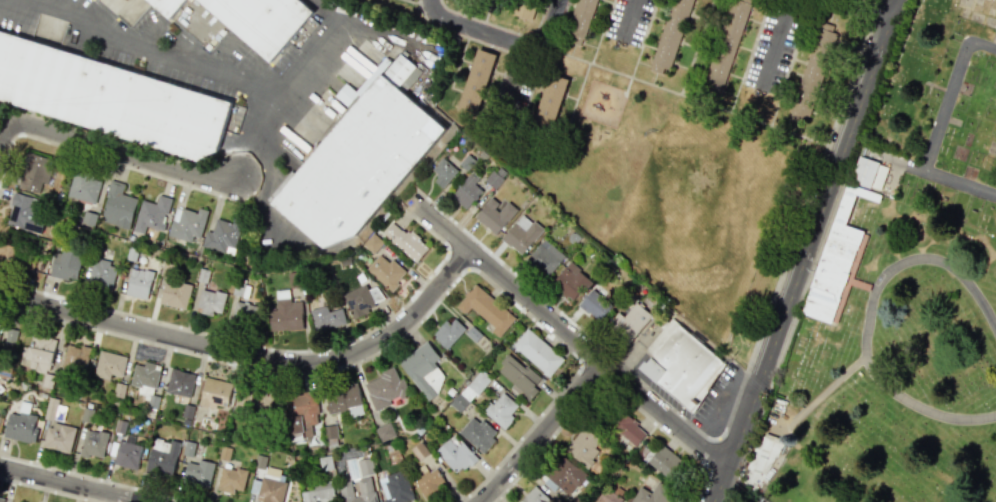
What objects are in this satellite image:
building: (470, 0)
road: (786, 4)
road: (861, 7)
building: (522, 9)
road: (331, 12)
road: (626, 18)
road: (552, 19)
building: (579, 21)
building: (253, 22)
road: (483, 30)
building: (671, 35)
road: (150, 36)
road: (392, 37)
road: (128, 43)
building: (726, 45)
road: (772, 45)
road: (518, 50)
road: (313, 63)
park: (912, 68)
building: (814, 69)
road: (513, 76)
building: (476, 80)
road: (948, 91)
road: (262, 94)
building: (111, 96)
building: (550, 100)
road: (3, 129)
park: (946, 137)
road: (126, 154)
road: (894, 159)
road: (266, 163)
building: (360, 168)
building: (34, 172)
building: (442, 172)
building: (869, 173)
road: (958, 180)
building: (84, 186)
building: (466, 191)
building: (117, 206)
building: (23, 212)
building: (152, 214)
building: (495, 214)
building: (88, 219)
building: (187, 223)
building: (521, 234)
building: (221, 237)
building: (406, 242)
building: (372, 243)
road: (803, 252)
building: (7, 253)
building: (544, 258)
building: (837, 258)
road: (911, 260)
building: (65, 265)
building: (386, 271)
building: (102, 273)
building: (570, 281)
building: (138, 283)
building: (174, 295)
building: (362, 299)
building: (209, 301)
building: (593, 306)
building: (485, 309)
building: (242, 312)
building: (285, 313)
building: (326, 318)
building: (628, 322)
building: (0, 329)
road: (569, 331)
building: (448, 332)
building: (472, 333)
road: (636, 346)
building: (537, 352)
building: (38, 354)
road: (253, 358)
building: (75, 359)
building: (681, 361)
building: (109, 364)
park: (884, 364)
road: (617, 367)
building: (423, 369)
building: (5, 370)
building: (519, 376)
building: (145, 381)
building: (180, 382)
building: (384, 388)
road: (745, 389)
building: (469, 391)
building: (215, 393)
building: (344, 400)
building: (253, 402)
road: (808, 403)
road: (721, 405)
road: (919, 408)
building: (50, 409)
building: (500, 410)
building: (301, 415)
building: (20, 426)
building: (627, 428)
road: (542, 431)
building: (384, 432)
building: (330, 433)
building: (477, 433)
building: (58, 437)
building: (93, 443)
building: (583, 447)
building: (127, 453)
building: (455, 455)
building: (162, 457)
building: (664, 461)
building: (364, 466)
building: (198, 472)
building: (564, 477)
building: (231, 480)
building: (427, 480)
road: (70, 484)
building: (395, 487)
building: (269, 488)
building: (357, 490)
building: (318, 494)
building: (652, 494)
building: (534, 496)
building: (0, 499)
building: (737, 501)

